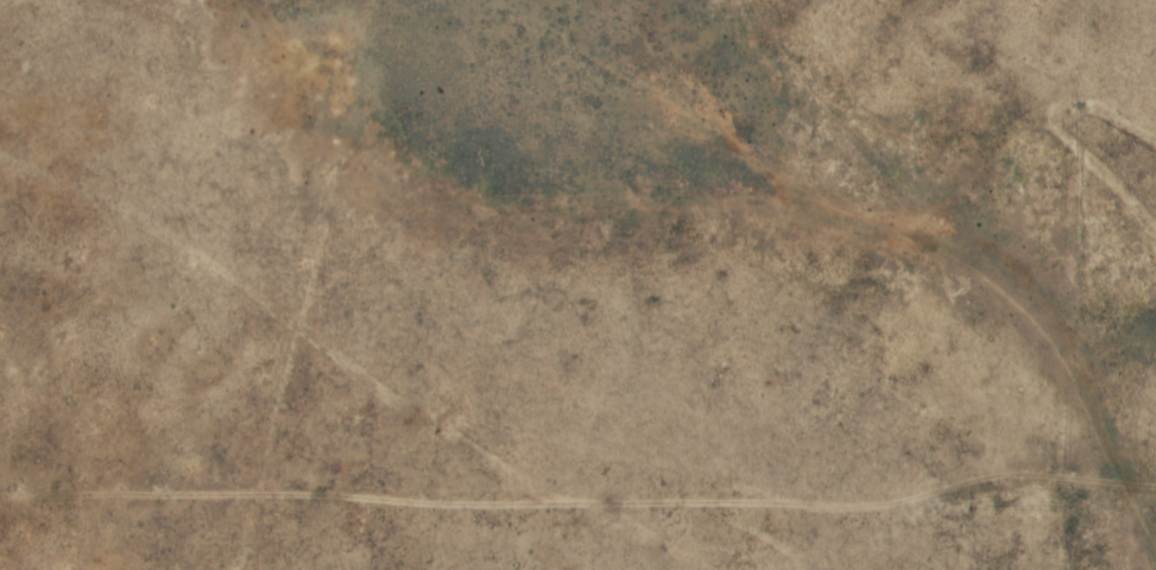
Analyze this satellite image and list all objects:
road: (1099, 285)

